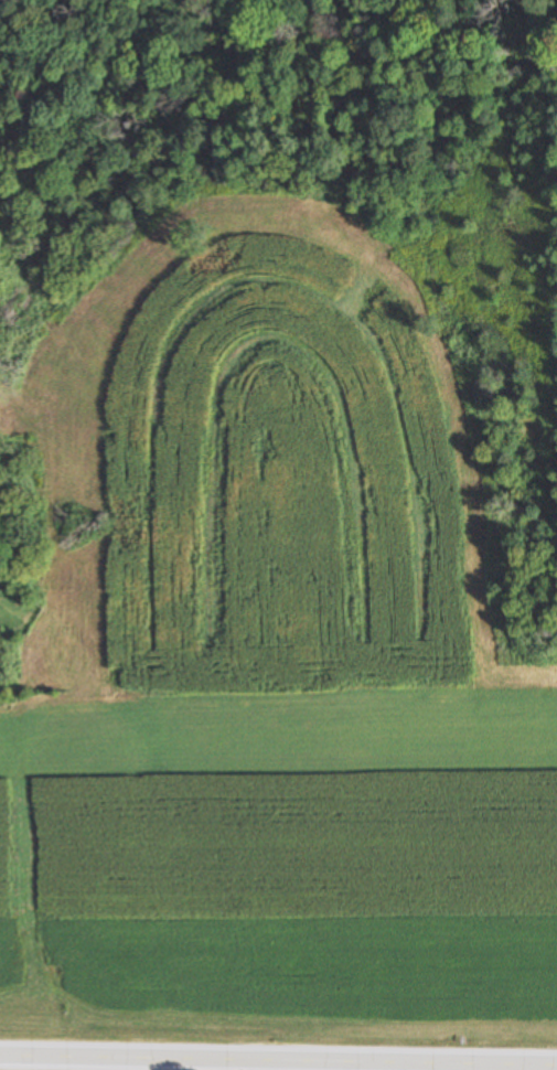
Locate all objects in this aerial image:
road: (278, 1052)

